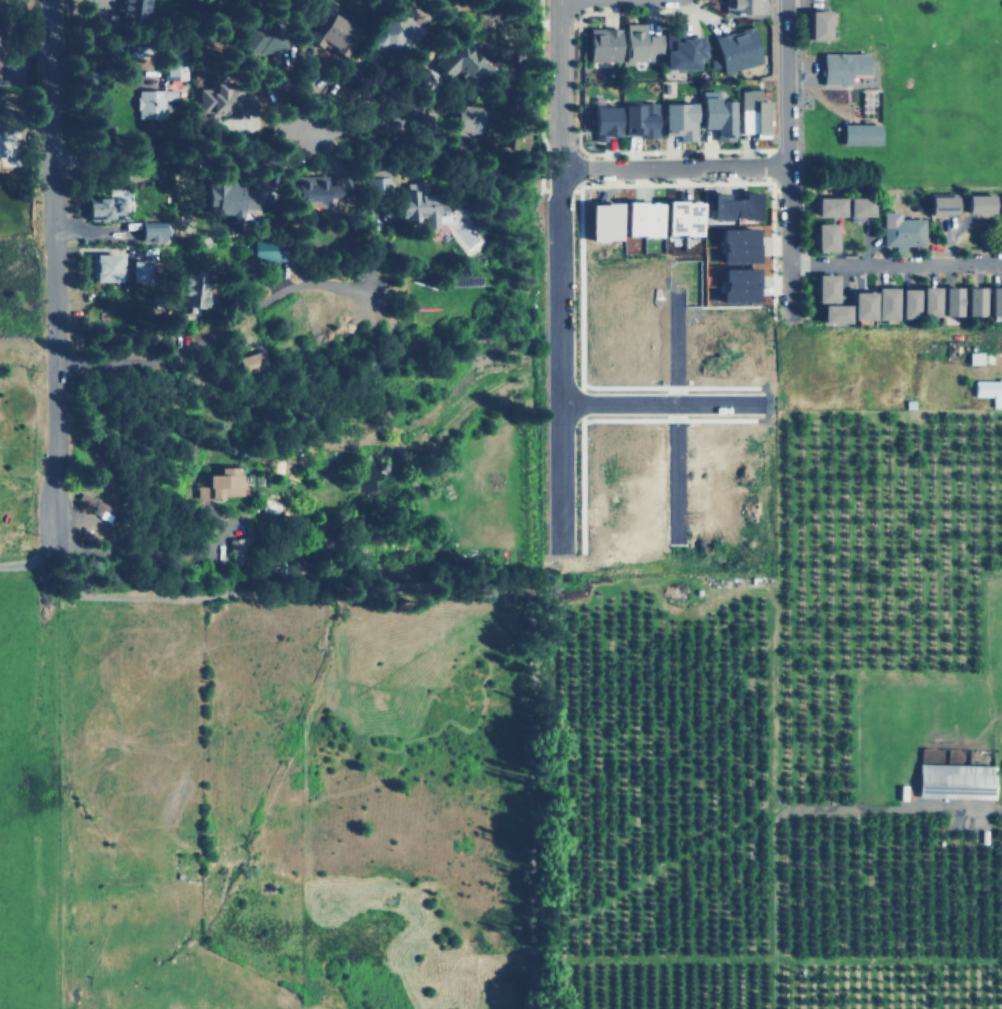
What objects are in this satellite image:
building: (742, 6)
building: (814, 25)
building: (400, 35)
building: (333, 36)
building: (259, 40)
building: (635, 42)
building: (601, 44)
building: (679, 49)
building: (732, 50)
building: (461, 63)
building: (840, 66)
building: (172, 70)
road: (557, 84)
building: (216, 99)
building: (151, 102)
road: (25, 105)
building: (751, 112)
building: (713, 114)
building: (636, 119)
building: (464, 120)
building: (676, 120)
building: (600, 122)
building: (859, 134)
building: (516, 138)
road: (787, 154)
road: (179, 156)
road: (673, 168)
building: (375, 182)
building: (317, 189)
building: (224, 198)
building: (973, 203)
building: (937, 204)
building: (999, 204)
building: (411, 205)
building: (823, 205)
building: (854, 205)
building: (730, 206)
building: (100, 207)
building: (678, 218)
building: (638, 219)
building: (148, 231)
building: (898, 231)
building: (820, 238)
building: (735, 246)
building: (266, 251)
road: (895, 264)
building: (104, 268)
building: (135, 271)
road: (53, 277)
building: (736, 285)
building: (821, 288)
building: (188, 293)
building: (969, 300)
building: (992, 300)
building: (945, 301)
building: (923, 302)
building: (892, 304)
building: (845, 309)
road: (216, 328)
building: (250, 362)
road: (559, 368)
building: (987, 391)
road: (660, 402)
road: (673, 430)
building: (219, 483)
building: (96, 506)
road: (141, 559)
road: (663, 570)
road: (336, 587)
road: (270, 588)
road: (83, 597)
road: (172, 598)
road: (529, 705)
building: (955, 771)
road: (896, 808)

